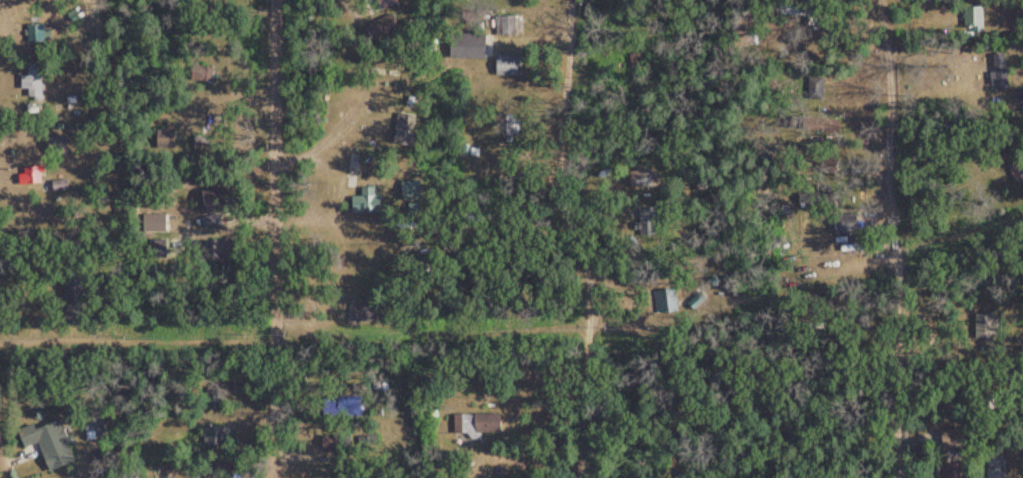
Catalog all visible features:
building: (507, 65)
road: (0, 82)
building: (34, 82)
building: (33, 175)
road: (912, 239)
road: (199, 246)
building: (100, 427)

